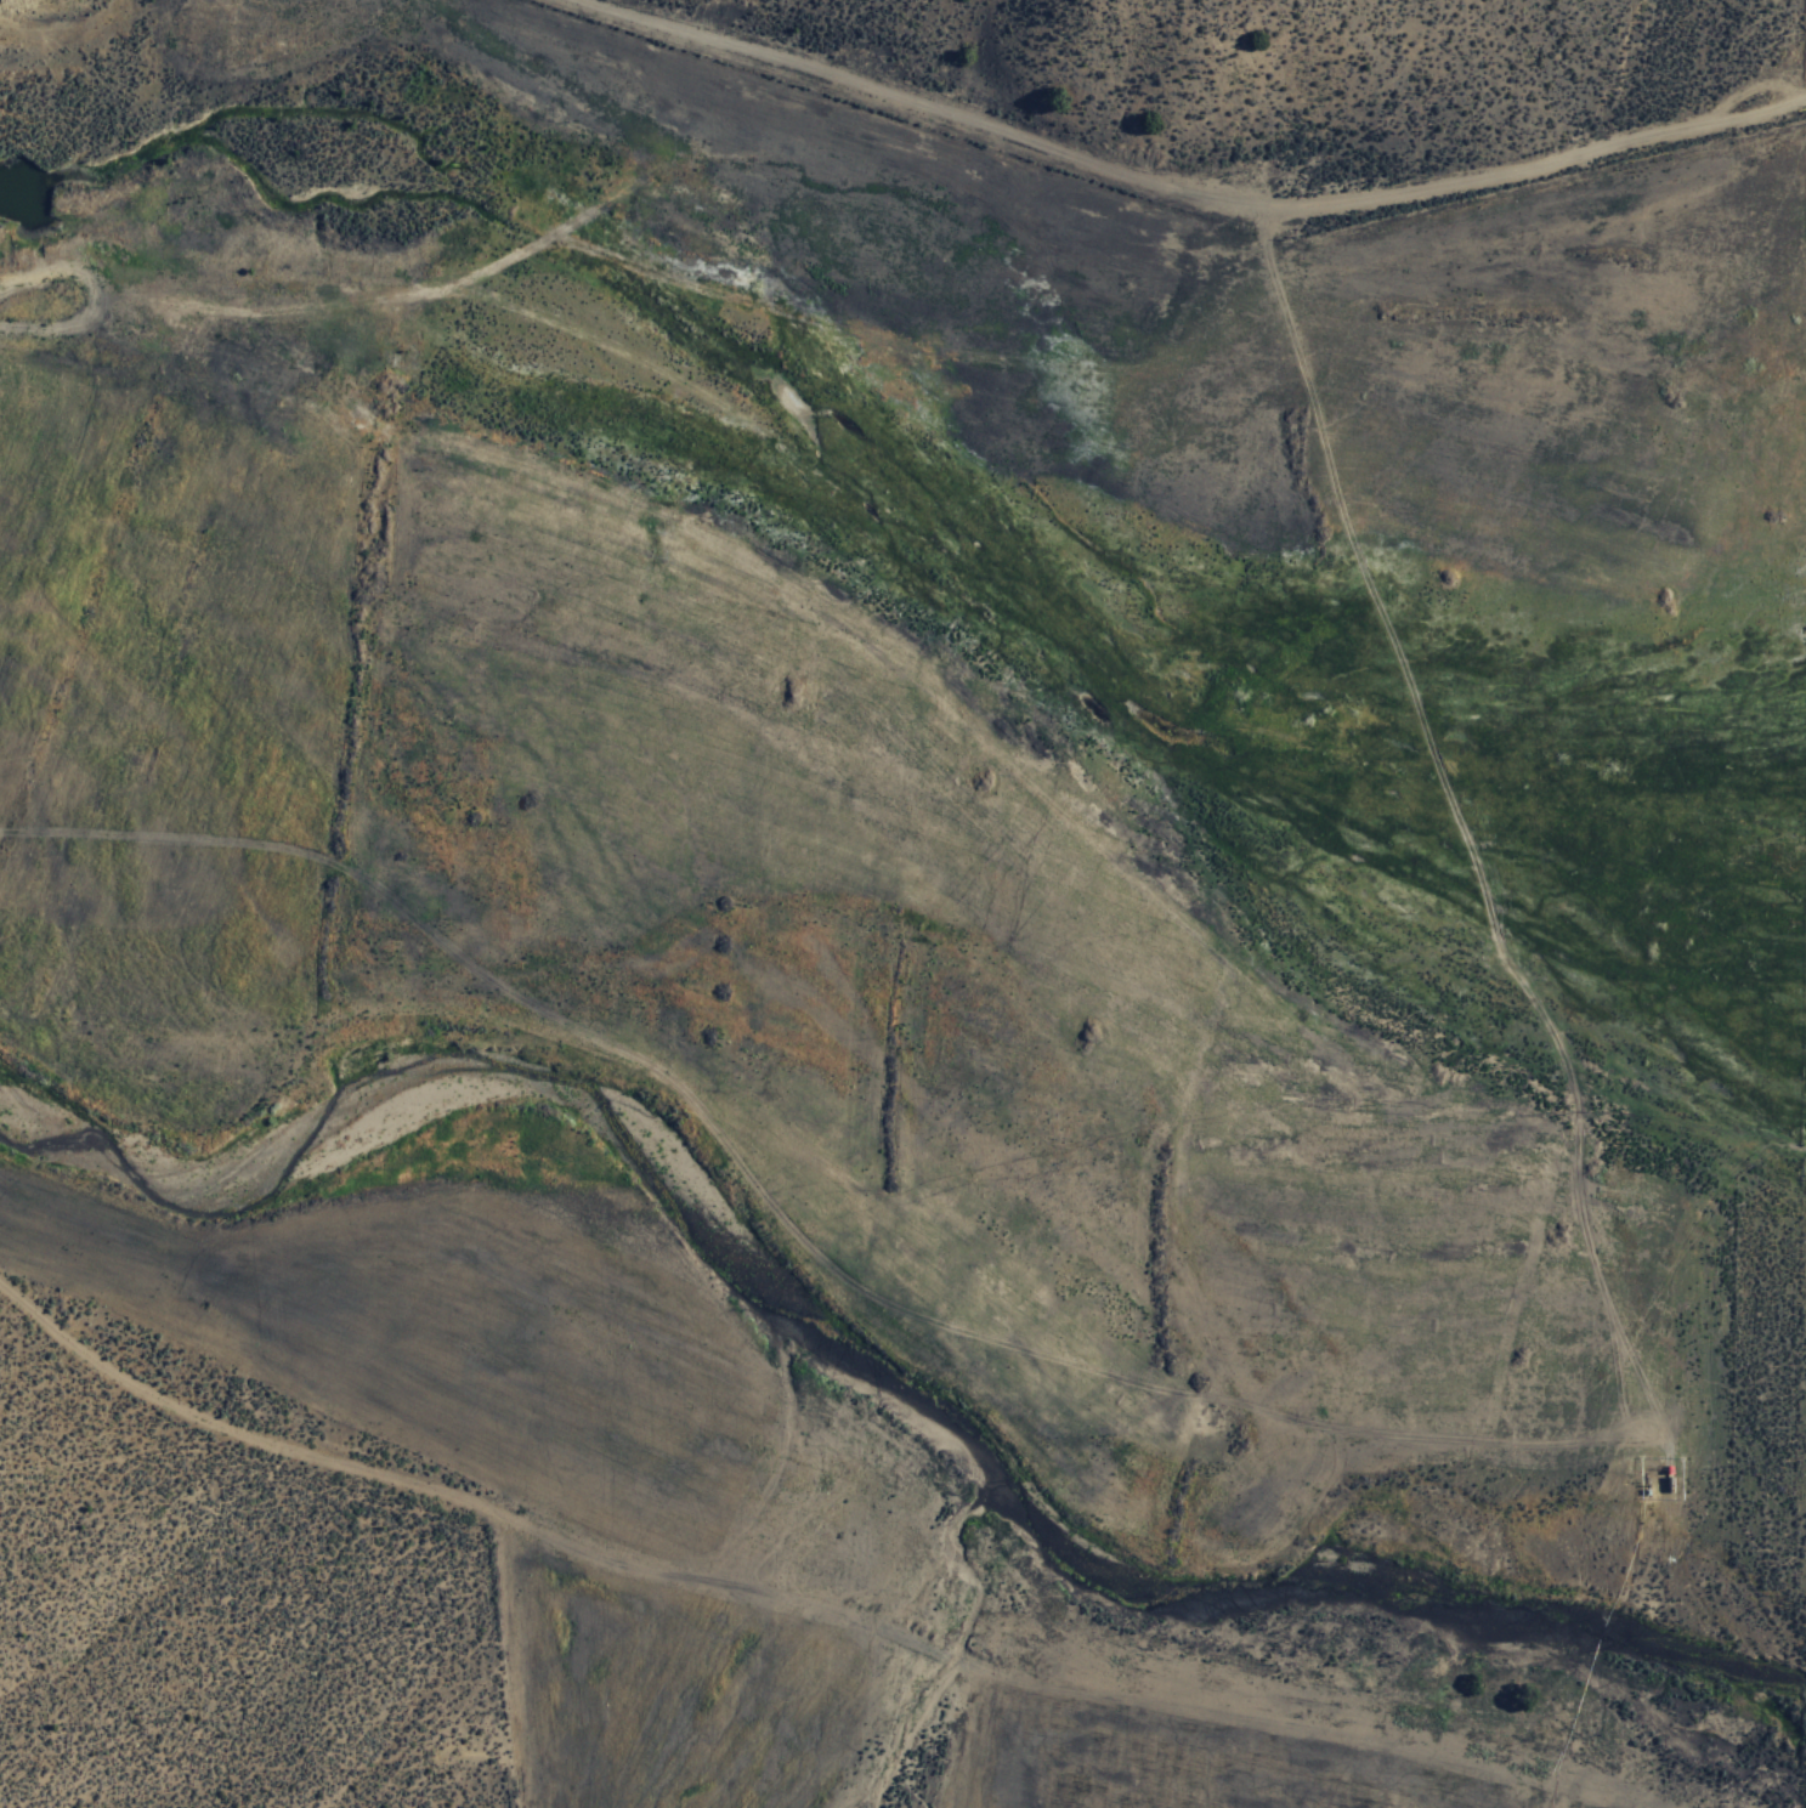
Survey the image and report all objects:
road: (1206, 55)

